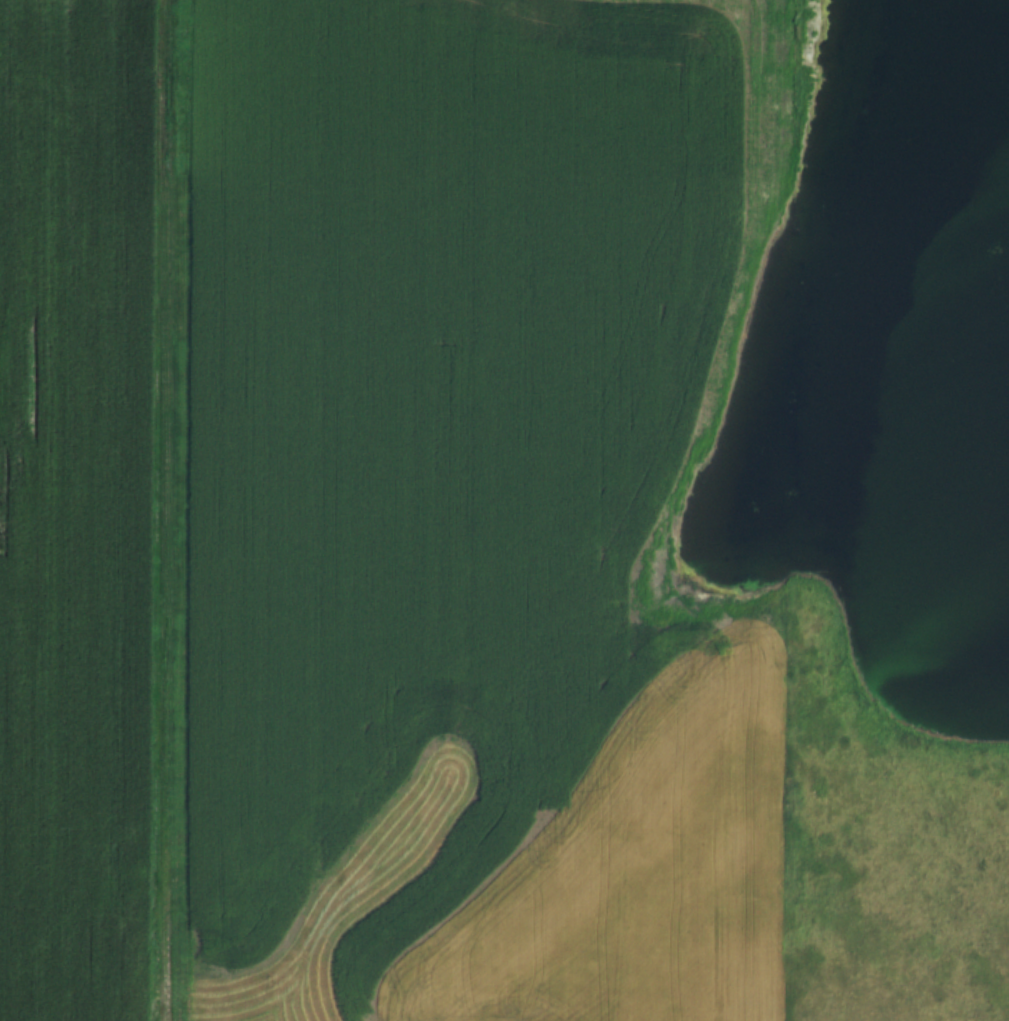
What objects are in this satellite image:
road: (160, 510)

